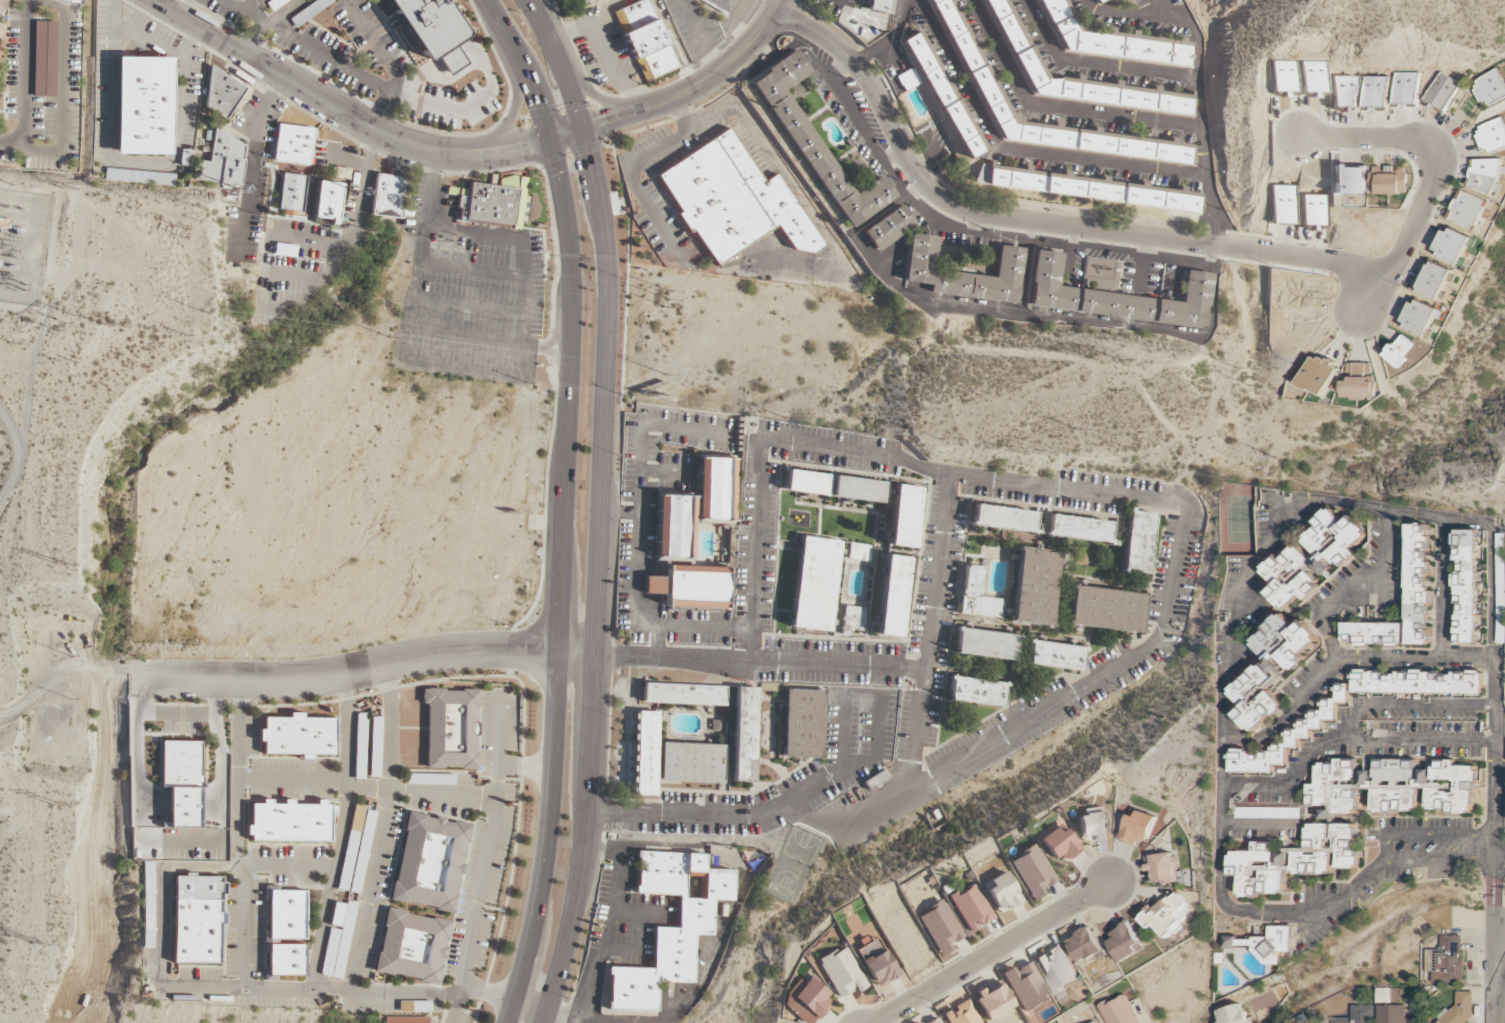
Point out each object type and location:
building: (71, 1)
building: (584, 1)
building: (1096, 1)
building: (1, 5)
building: (720, 5)
building: (879, 5)
road: (1157, 9)
road: (260, 11)
road: (239, 15)
road: (541, 17)
road: (267, 21)
building: (432, 29)
road: (890, 38)
building: (1110, 39)
building: (643, 40)
building: (1017, 45)
building: (968, 55)
building: (44, 59)
road: (386, 63)
road: (1094, 64)
road: (725, 66)
road: (839, 68)
building: (1285, 78)
building: (1315, 78)
building: (908, 79)
road: (1198, 80)
road: (24, 83)
building: (1490, 87)
road: (60, 88)
building: (1405, 89)
building: (1344, 92)
building: (221, 93)
building: (1375, 93)
building: (1442, 93)
road: (593, 96)
building: (946, 98)
building: (143, 106)
traffic signals: (538, 107)
road: (1057, 107)
road: (342, 112)
road: (509, 121)
traffic signals: (607, 121)
road: (598, 123)
building: (1492, 136)
building: (293, 145)
traffic signals: (525, 145)
building: (816, 145)
road: (1018, 150)
traffic signals: (590, 154)
road: (893, 157)
road: (933, 159)
building: (221, 161)
road: (1432, 171)
building: (341, 173)
building: (1484, 176)
building: (140, 177)
building: (353, 179)
building: (1349, 180)
building: (1390, 180)
building: (1086, 188)
road: (433, 191)
building: (290, 192)
building: (386, 196)
building: (325, 200)
building: (732, 201)
building: (492, 204)
building: (1283, 205)
road: (884, 208)
building: (1313, 210)
building: (1466, 210)
road: (566, 216)
road: (1036, 222)
road: (977, 224)
building: (887, 229)
road: (982, 233)
road: (355, 238)
power substation: (22, 245)
building: (1451, 245)
road: (1072, 255)
road: (884, 263)
road: (1025, 267)
road: (1141, 267)
road: (475, 272)
building: (962, 274)
building: (1434, 280)
road: (1180, 281)
building: (1116, 298)
road: (471, 305)
road: (973, 309)
building: (1421, 317)
power tower: (64, 323)
road: (488, 339)
building: (1400, 351)
building: (1319, 375)
road: (514, 377)
building: (1359, 382)
power tower: (670, 401)
power tower: (918, 410)
road: (17, 456)
power tower: (1275, 457)
road: (664, 471)
road: (637, 480)
building: (806, 483)
building: (858, 489)
building: (717, 490)
road: (1078, 490)
road: (620, 514)
building: (905, 516)
building: (1003, 519)
road: (602, 528)
building: (1078, 529)
building: (1137, 543)
building: (858, 552)
building: (1312, 559)
building: (683, 560)
power tower: (56, 565)
building: (815, 584)
building: (1417, 585)
road: (1443, 587)
building: (1464, 587)
building: (1034, 588)
building: (893, 596)
building: (976, 596)
building: (1105, 610)
road: (1237, 618)
building: (852, 619)
building: (1478, 622)
road: (693, 628)
building: (1371, 634)
road: (657, 641)
building: (985, 645)
road: (1331, 645)
building: (1054, 656)
road: (761, 660)
road: (363, 668)
building: (1270, 670)
road: (59, 678)
building: (1417, 682)
building: (976, 693)
building: (684, 694)
road: (1495, 696)
road: (920, 703)
building: (802, 724)
building: (450, 729)
road: (1351, 732)
road: (841, 734)
building: (743, 735)
building: (297, 736)
road: (555, 738)
building: (1290, 738)
road: (1421, 740)
building: (360, 746)
building: (375, 747)
building: (644, 754)
building: (691, 763)
road: (526, 769)
road: (237, 774)
road: (291, 781)
building: (181, 782)
building: (1420, 786)
building: (1335, 787)
road: (420, 794)
power tower: (59, 803)
road: (769, 811)
building: (289, 821)
building: (1092, 826)
building: (1137, 828)
road: (380, 830)
road: (339, 831)
road: (1427, 836)
road: (488, 841)
building: (1059, 844)
road: (659, 847)
road: (1438, 859)
building: (1295, 860)
building: (430, 862)
building: (1162, 868)
road: (246, 869)
building: (1033, 871)
building: (1003, 892)
building: (146, 905)
building: (972, 907)
road: (637, 913)
building: (284, 916)
building: (1166, 916)
building: (196, 919)
building: (940, 927)
road: (242, 929)
road: (1309, 929)
building: (683, 932)
road: (607, 933)
building: (338, 940)
power tower: (38, 942)
building: (1125, 942)
building: (1260, 944)
building: (411, 946)
building: (1085, 946)
road: (635, 949)
road: (1491, 950)
road: (991, 952)
building: (286, 960)
building: (1448, 960)
building: (876, 962)
road: (283, 968)
building: (1057, 969)
building: (842, 972)
road: (699, 983)
road: (1489, 986)
building: (1026, 987)
road: (193, 988)
road: (401, 994)
road: (486, 994)
building: (1387, 995)
building: (806, 1000)
road: (1504, 1001)
building: (993, 1003)
road: (454, 1004)
road: (1504, 1005)
road: (530, 1008)
building: (1459, 1009)
building: (1119, 1010)
building: (961, 1014)
building: (1392, 1014)
road: (1502, 1014)
building: (1233, 1015)
building: (1357, 1015)
building: (935, 1021)
road: (600, 1022)
building: (915, 1022)
building: (1096, 1022)

